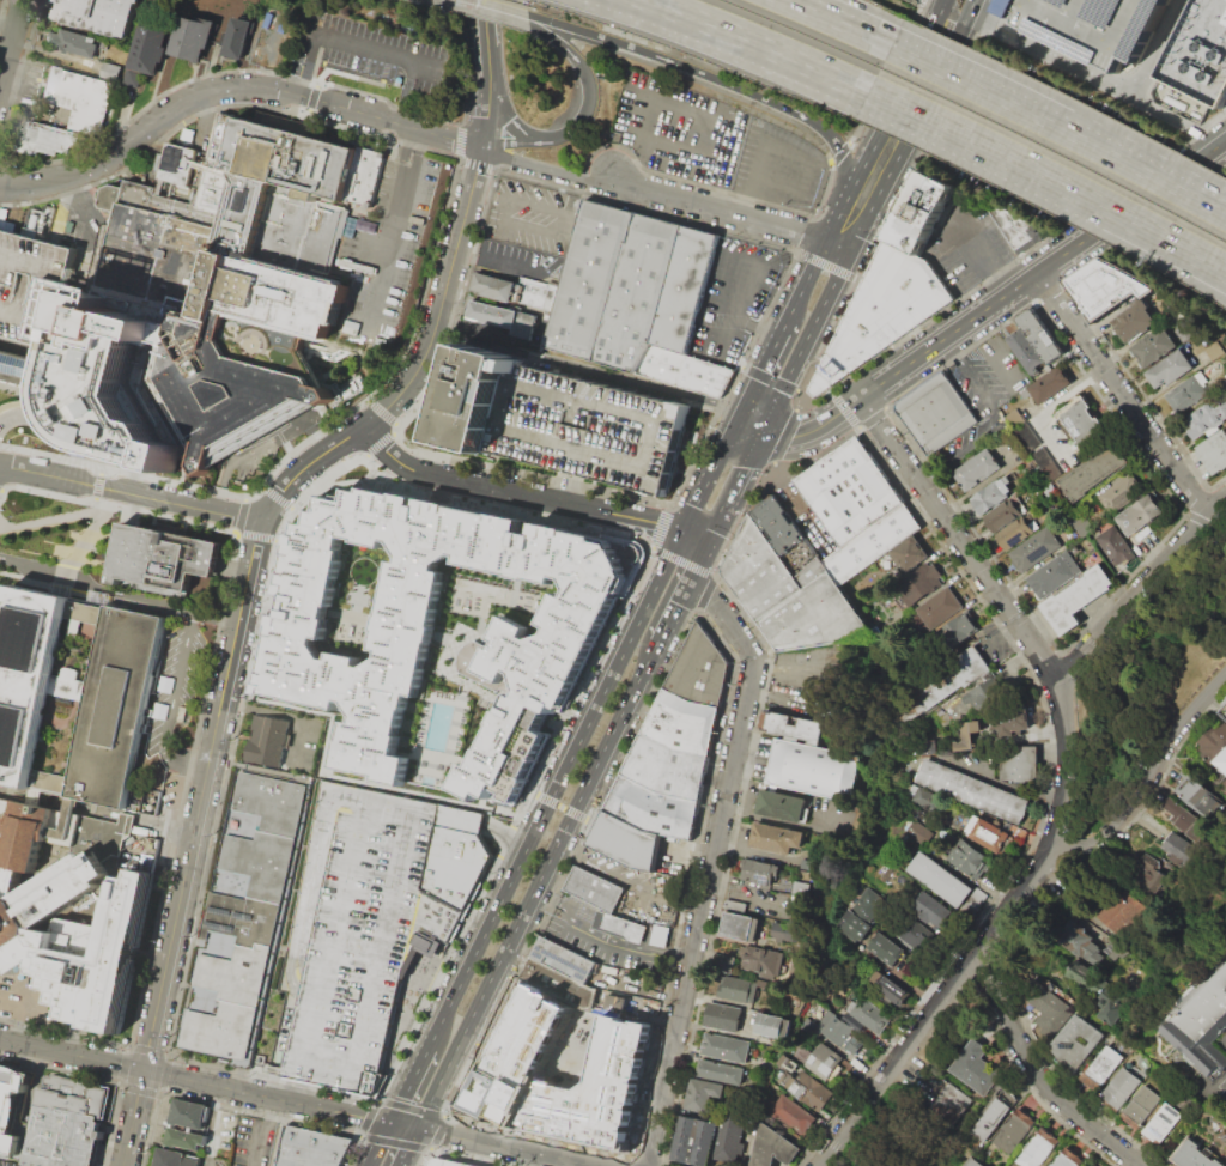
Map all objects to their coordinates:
building: (896, 0)
road: (941, 1)
road: (945, 1)
road: (918, 2)
parking lot: (0, 4)
road: (475, 4)
road: (971, 7)
road: (510, 12)
building: (93, 14)
traffic signals: (967, 14)
road: (509, 16)
road: (952, 18)
road: (963, 23)
road: (839, 24)
road: (851, 24)
building: (1091, 25)
parking lot: (1091, 25)
road: (7, 32)
building: (190, 36)
building: (235, 37)
building: (69, 40)
building: (152, 40)
road: (482, 40)
road: (11, 43)
road: (760, 44)
parking lot: (351, 47)
road: (951, 48)
road: (53, 53)
road: (394, 53)
road: (664, 61)
road: (302, 63)
building: (1196, 63)
building: (108, 71)
road: (881, 74)
road: (1095, 74)
road: (589, 80)
road: (22, 83)
road: (199, 97)
building: (79, 98)
road: (667, 103)
road: (893, 107)
road: (486, 113)
road: (508, 120)
road: (1061, 128)
road: (450, 136)
building: (47, 139)
road: (972, 140)
parking lot: (714, 141)
road: (515, 144)
road: (781, 150)
road: (838, 152)
road: (839, 152)
road: (477, 166)
road: (547, 170)
road: (825, 190)
road: (894, 204)
road: (720, 212)
building: (917, 213)
road: (564, 218)
road: (79, 223)
road: (834, 225)
building: (1013, 226)
road: (1148, 230)
road: (389, 231)
parking lot: (528, 231)
road: (802, 232)
road: (1148, 241)
parking lot: (1188, 242)
parking lot: (967, 243)
parking lot: (395, 245)
road: (838, 245)
road: (851, 247)
road: (366, 251)
road: (976, 255)
road: (502, 261)
road: (825, 265)
road: (1042, 267)
road: (857, 279)
road: (805, 284)
building: (1103, 285)
building: (31, 286)
parking lot: (31, 286)
building: (493, 286)
building: (533, 292)
road: (735, 292)
parking lot: (736, 296)
building: (638, 297)
building: (211, 298)
building: (880, 311)
road: (436, 315)
building: (1134, 317)
building: (502, 318)
road: (752, 327)
building: (1183, 332)
building: (1040, 335)
building: (1154, 347)
road: (773, 348)
building: (1025, 351)
building: (1212, 351)
building: (19, 364)
road: (740, 365)
road: (589, 369)
building: (1170, 369)
parking lot: (987, 376)
road: (767, 377)
road: (732, 378)
road: (1015, 379)
building: (1050, 384)
road: (799, 390)
road: (1069, 391)
road: (1122, 391)
building: (1188, 395)
road: (749, 396)
building: (473, 397)
road: (29, 414)
building: (934, 414)
building: (1206, 417)
road: (994, 418)
building: (1082, 420)
traffic signals: (738, 424)
road: (748, 427)
road: (813, 429)
building: (588, 430)
parking lot: (588, 430)
traffic signals: (760, 432)
road: (1046, 432)
road: (92, 433)
road: (784, 436)
building: (1032, 444)
road: (251, 451)
building: (1214, 453)
road: (305, 463)
road: (776, 469)
building: (976, 469)
road: (123, 473)
building: (1092, 473)
road: (740, 474)
road: (710, 478)
road: (772, 480)
road: (564, 488)
road: (132, 491)
road: (742, 491)
road: (515, 492)
building: (846, 492)
building: (993, 492)
building: (1123, 492)
building: (1005, 514)
building: (1140, 515)
road: (1207, 520)
road: (808, 522)
road: (658, 526)
building: (775, 527)
road: (89, 529)
road: (712, 529)
building: (1018, 532)
traffic signals: (682, 533)
road: (734, 534)
road: (1221, 538)
road: (694, 539)
road: (960, 540)
traffic signals: (706, 545)
building: (869, 545)
building: (1036, 548)
building: (1115, 548)
road: (670, 557)
building: (903, 558)
road: (681, 561)
road: (697, 563)
building: (170, 564)
building: (755, 573)
building: (1055, 575)
traffic signals: (688, 582)
building: (917, 584)
road: (93, 591)
road: (704, 594)
building: (1076, 600)
building: (941, 606)
road: (673, 612)
building: (812, 614)
road: (217, 619)
building: (955, 633)
road: (999, 634)
building: (540, 646)
road: (1084, 650)
road: (799, 664)
building: (698, 670)
parking lot: (820, 670)
park: (1148, 674)
building: (940, 682)
parking lot: (176, 684)
road: (578, 685)
building: (972, 697)
building: (77, 699)
road: (784, 699)
road: (172, 708)
building: (1222, 711)
road: (289, 713)
building: (1009, 713)
building: (682, 723)
building: (797, 727)
road: (1178, 730)
building: (967, 735)
building: (265, 740)
building: (1213, 747)
building: (929, 749)
building: (1020, 763)
building: (667, 767)
building: (813, 769)
road: (1000, 783)
building: (972, 790)
road: (2, 792)
road: (206, 792)
road: (532, 792)
building: (1201, 797)
road: (545, 798)
building: (924, 800)
building: (781, 804)
road: (559, 806)
building: (653, 809)
road: (573, 812)
road: (545, 813)
road: (588, 820)
road: (789, 821)
building: (1188, 824)
road: (1100, 828)
building: (95, 830)
building: (993, 832)
building: (776, 837)
road: (504, 840)
building: (624, 842)
road: (500, 844)
building: (1179, 848)
building: (970, 860)
road: (711, 862)
road: (570, 863)
building: (807, 866)
building: (761, 870)
road: (310, 873)
road: (608, 873)
building: (943, 880)
road: (539, 883)
building: (795, 887)
building: (594, 889)
building: (1130, 892)
road: (751, 894)
building: (735, 905)
building: (933, 909)
building: (244, 917)
building: (369, 917)
building: (861, 919)
building: (74, 924)
building: (740, 925)
parking lot: (351, 927)
road: (411, 927)
building: (619, 927)
building: (783, 931)
building: (660, 935)
building: (911, 937)
road: (607, 939)
building: (1080, 939)
building: (886, 951)
road: (332, 953)
building: (564, 959)
building: (760, 961)
building: (722, 962)
road: (436, 977)
building: (559, 984)
building: (763, 984)
building: (736, 988)
building: (890, 988)
building: (1097, 990)
road: (30, 1001)
building: (795, 1003)
road: (935, 1008)
building: (1045, 1009)
road: (638, 1010)
building: (722, 1016)
building: (870, 1016)
building: (1197, 1021)
building: (855, 1022)
building: (808, 1025)
building: (772, 1026)
building: (837, 1027)
road: (303, 1040)
building: (1076, 1041)
building: (726, 1047)
parking lot: (1222, 1047)
building: (825, 1058)
road: (380, 1061)
road: (356, 1063)
building: (1103, 1067)
building: (975, 1069)
building: (560, 1070)
building: (718, 1070)
road: (1040, 1076)
road: (195, 1077)
road: (1216, 1077)
parking lot: (1222, 1081)
road: (409, 1083)
building: (812, 1088)
building: (1119, 1089)
building: (703, 1093)
park: (1224, 1098)
building: (947, 1105)
building: (1141, 1106)
road: (412, 1109)
road: (213, 1110)
building: (10, 1113)
building: (189, 1113)
building: (791, 1113)
building: (994, 1115)
road: (139, 1117)
road: (368, 1118)
traffic signals: (392, 1121)
building: (1163, 1122)
building: (66, 1123)
road: (405, 1123)
traffic signals: (419, 1126)
road: (255, 1129)
building: (1013, 1130)
road: (438, 1131)
building: (184, 1138)
building: (694, 1140)
building: (732, 1140)
road: (380, 1142)
road: (394, 1142)
road: (408, 1146)
road: (512, 1146)
building: (312, 1147)
building: (771, 1147)
building: (1037, 1149)
road: (351, 1150)
building: (1194, 1155)
road: (426, 1156)
building: (175, 1158)
building: (1067, 1158)
road: (211, 1161)
building: (975, 1162)
building: (444, 1164)
parking lot: (1, 1165)
building: (1086, 1165)
building: (1091, 1165)

